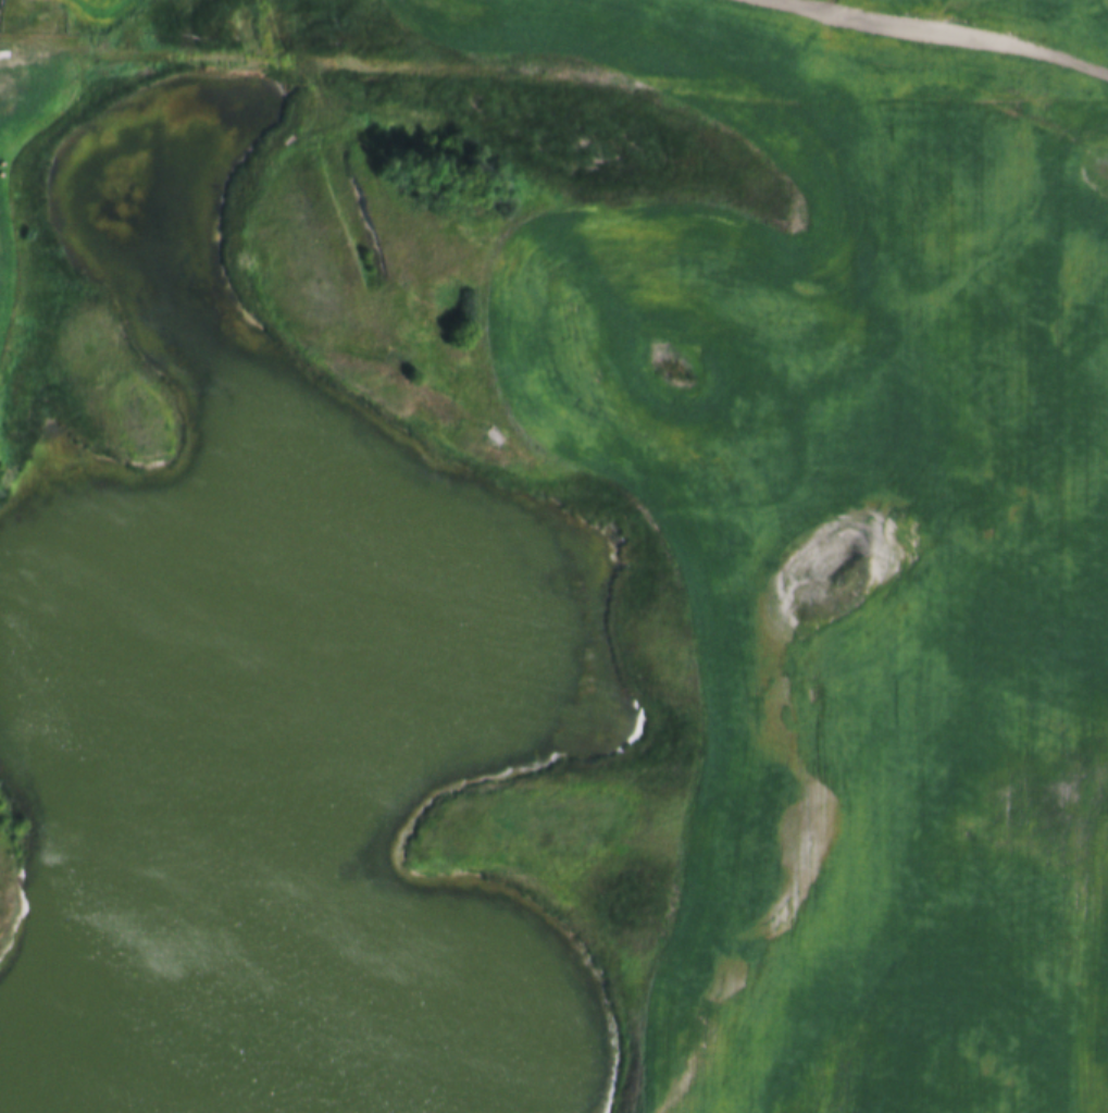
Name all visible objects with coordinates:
road: (553, 69)
building: (491, 433)

